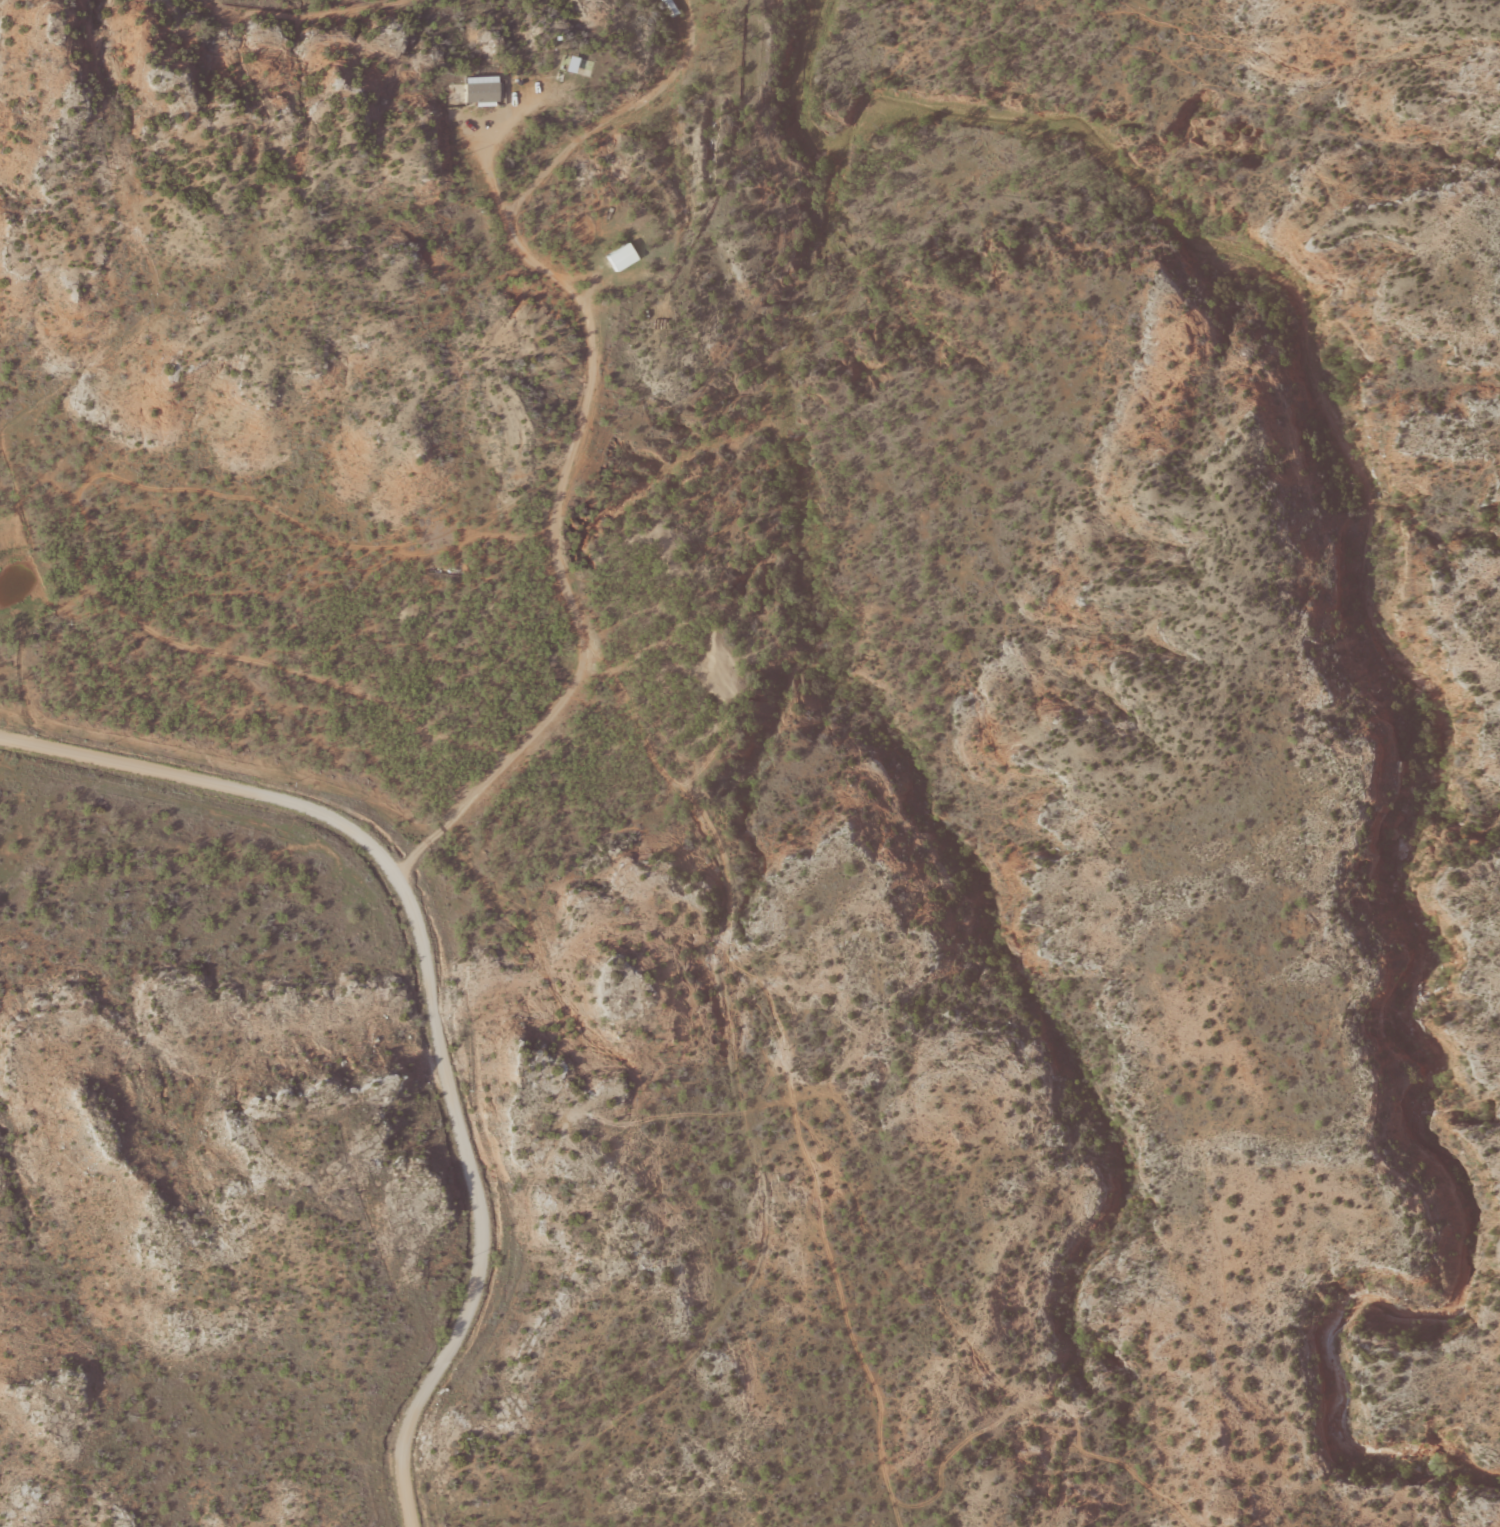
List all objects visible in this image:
building: (568, 65)
building: (479, 92)
road: (575, 337)
road: (313, 854)
road: (740, 1123)
road: (457, 1175)

